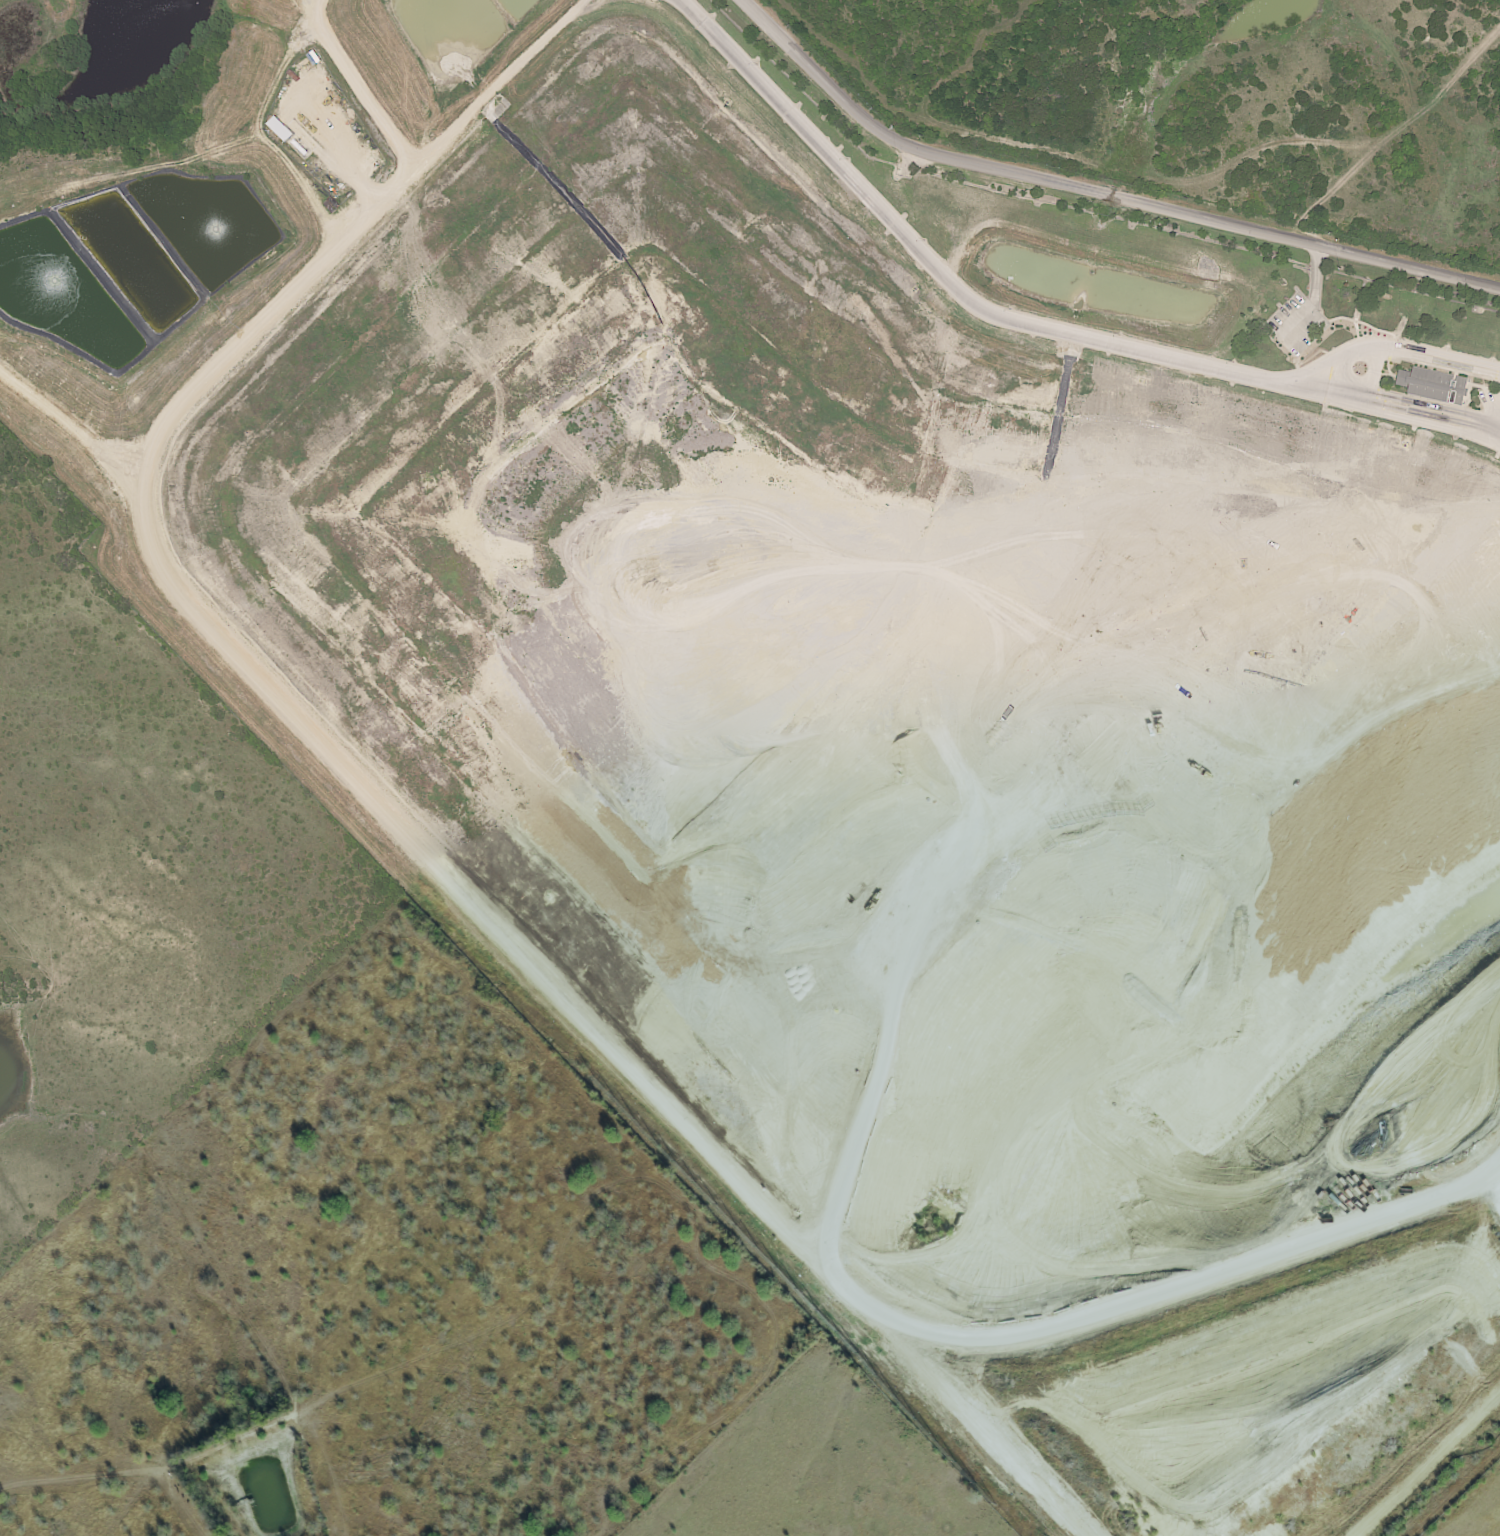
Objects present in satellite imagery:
road: (313, 9)
road: (367, 92)
building: (278, 129)
building: (301, 135)
road: (1095, 193)
road: (1025, 325)
road: (1384, 349)
building: (1432, 385)
landfill: (843, 691)
road: (479, 909)
road: (1495, 1180)
road: (978, 1424)
road: (1425, 1463)

